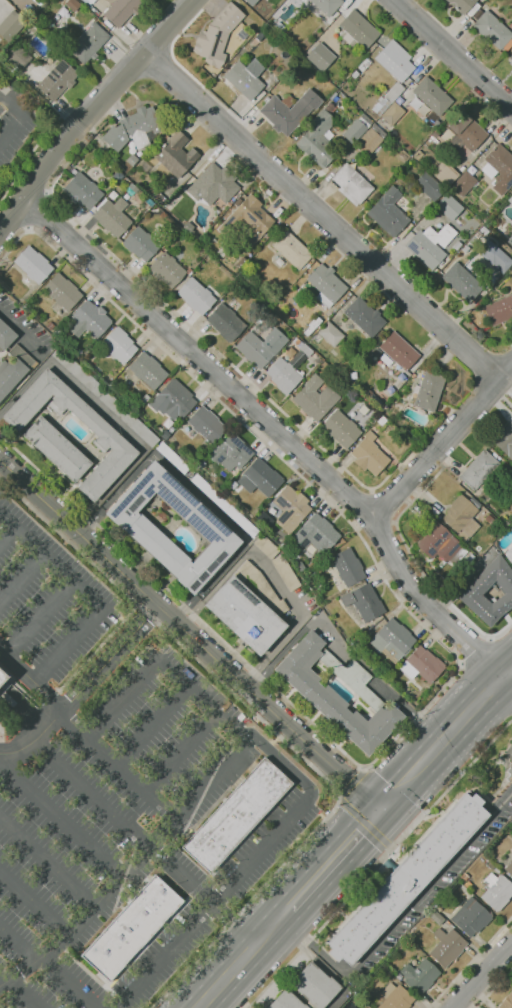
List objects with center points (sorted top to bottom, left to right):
building: (87, 1)
road: (15, 2)
road: (20, 2)
building: (251, 2)
building: (73, 5)
building: (461, 5)
building: (324, 7)
building: (120, 11)
building: (476, 14)
building: (12, 25)
building: (510, 26)
building: (356, 31)
building: (493, 31)
building: (242, 35)
building: (217, 36)
building: (89, 42)
road: (453, 54)
building: (18, 56)
building: (320, 56)
building: (511, 57)
building: (394, 61)
building: (364, 64)
building: (354, 74)
building: (58, 79)
building: (244, 79)
building: (332, 96)
building: (432, 96)
building: (387, 98)
road: (67, 110)
road: (89, 111)
building: (285, 113)
building: (392, 114)
road: (24, 117)
building: (135, 128)
building: (356, 129)
building: (465, 132)
building: (434, 134)
building: (316, 140)
building: (369, 141)
building: (102, 150)
road: (31, 153)
building: (176, 154)
building: (417, 155)
building: (133, 159)
building: (499, 168)
building: (444, 174)
building: (368, 176)
road: (33, 183)
building: (463, 183)
building: (215, 184)
building: (352, 185)
building: (429, 186)
building: (134, 187)
building: (82, 189)
building: (510, 199)
building: (449, 206)
building: (215, 211)
building: (388, 212)
road: (39, 214)
building: (113, 216)
road: (323, 216)
road: (13, 218)
building: (248, 221)
road: (3, 224)
building: (483, 231)
building: (182, 233)
building: (510, 241)
building: (141, 243)
building: (430, 245)
building: (456, 246)
building: (292, 249)
building: (222, 250)
building: (494, 256)
building: (34, 264)
building: (168, 269)
building: (497, 276)
building: (462, 282)
building: (326, 284)
building: (63, 291)
building: (197, 295)
building: (499, 310)
building: (364, 317)
building: (91, 320)
building: (226, 323)
road: (22, 331)
building: (331, 333)
building: (6, 335)
road: (201, 336)
building: (120, 345)
building: (261, 346)
building: (399, 351)
building: (376, 352)
building: (289, 368)
building: (15, 369)
building: (148, 370)
building: (407, 382)
building: (347, 387)
building: (429, 390)
building: (106, 397)
building: (315, 397)
building: (146, 398)
building: (173, 400)
road: (108, 415)
building: (382, 420)
building: (168, 422)
building: (207, 424)
building: (341, 428)
road: (280, 431)
building: (108, 434)
building: (165, 434)
building: (504, 440)
road: (442, 442)
building: (57, 449)
building: (231, 452)
building: (370, 454)
building: (173, 457)
building: (478, 470)
building: (261, 478)
road: (199, 497)
road: (386, 503)
road: (360, 504)
building: (225, 505)
building: (291, 508)
building: (160, 515)
building: (463, 516)
building: (489, 519)
building: (133, 523)
road: (380, 530)
building: (317, 534)
road: (7, 536)
building: (492, 539)
building: (439, 542)
building: (266, 546)
building: (509, 554)
building: (300, 566)
building: (348, 567)
building: (286, 573)
road: (273, 578)
road: (22, 581)
building: (478, 588)
road: (441, 593)
road: (87, 596)
parking lot: (51, 599)
building: (364, 602)
building: (249, 608)
road: (40, 621)
road: (185, 629)
building: (366, 629)
building: (393, 640)
road: (339, 641)
road: (475, 651)
road: (454, 654)
road: (106, 655)
building: (422, 665)
building: (3, 677)
road: (471, 694)
building: (320, 695)
road: (201, 701)
road: (56, 706)
road: (151, 727)
road: (274, 732)
road: (182, 756)
road: (452, 758)
road: (282, 760)
road: (115, 765)
road: (402, 768)
road: (231, 776)
traffic signals: (351, 780)
road: (351, 783)
traffic signals: (388, 784)
road: (89, 793)
road: (254, 797)
road: (382, 809)
parking lot: (105, 813)
building: (237, 815)
road: (277, 817)
road: (61, 822)
road: (366, 824)
traffic signals: (370, 841)
road: (380, 864)
road: (48, 866)
road: (346, 866)
building: (509, 868)
building: (408, 878)
road: (435, 883)
building: (497, 891)
road: (199, 892)
road: (216, 902)
road: (277, 904)
road: (36, 906)
road: (93, 913)
building: (471, 917)
building: (132, 928)
building: (447, 946)
road: (322, 953)
road: (258, 961)
road: (470, 962)
road: (47, 965)
road: (481, 974)
building: (391, 976)
building: (420, 976)
building: (315, 985)
road: (494, 988)
road: (341, 989)
road: (17, 991)
building: (396, 997)
building: (287, 1001)
building: (507, 1001)

